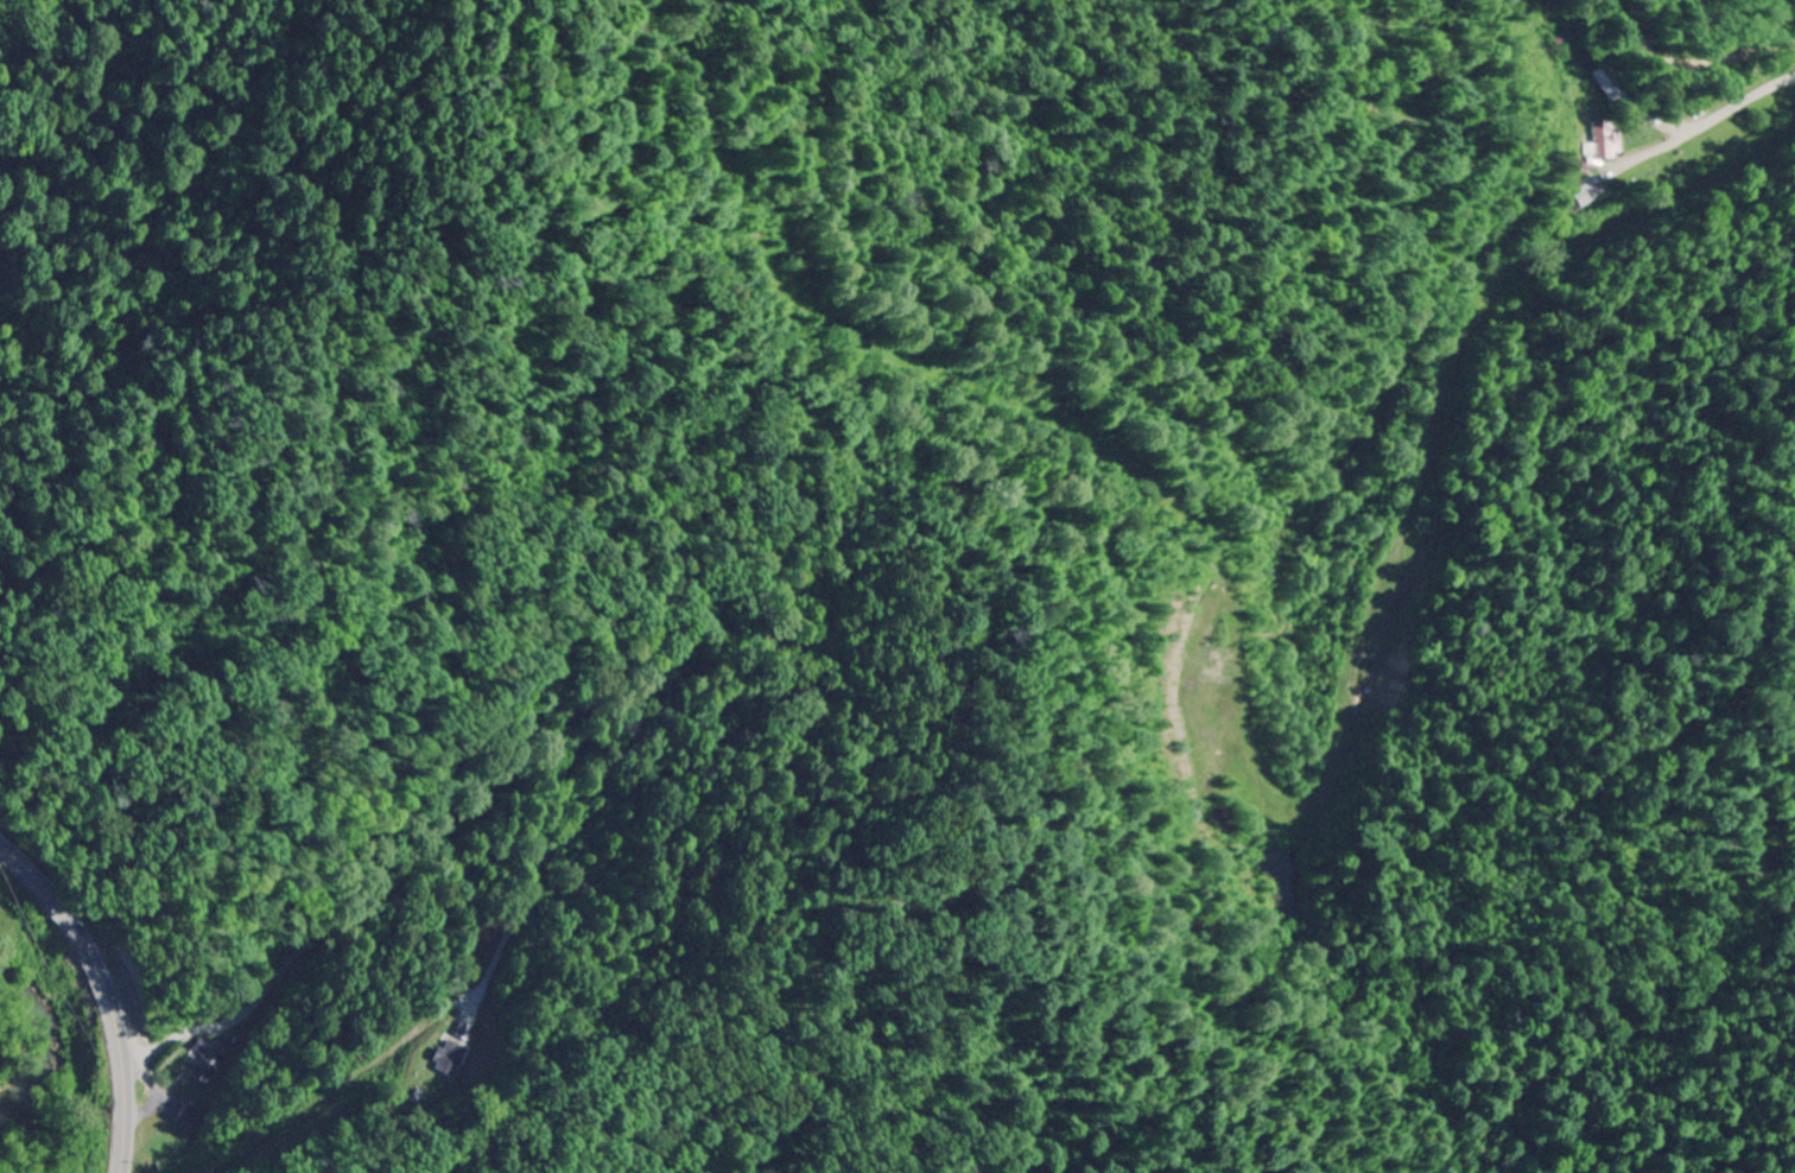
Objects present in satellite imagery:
building: (1601, 144)
road: (102, 995)
building: (463, 1032)
river: (38, 1046)
building: (446, 1058)
building: (207, 1064)
building: (188, 1117)

